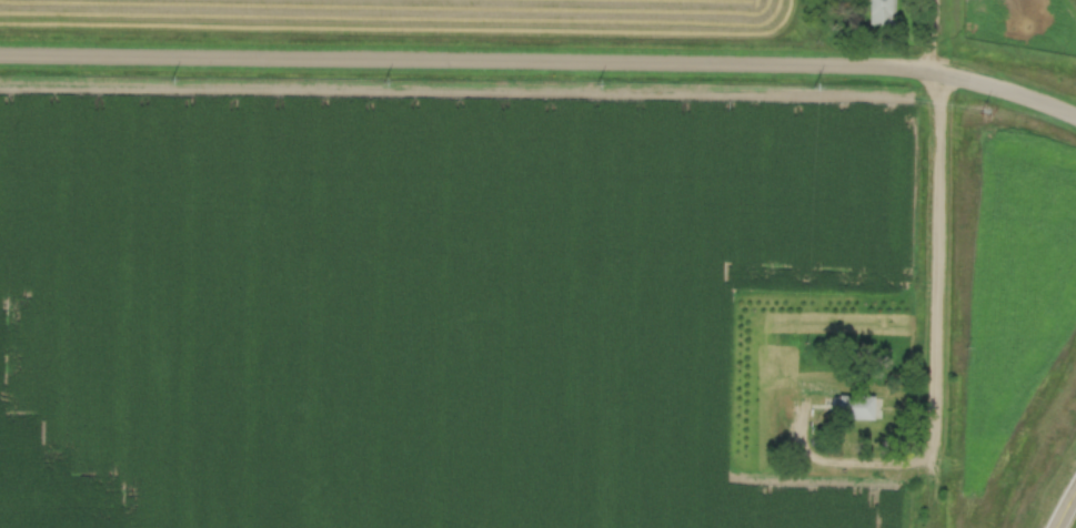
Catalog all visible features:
building: (883, 11)
road: (932, 35)
road: (541, 64)
road: (938, 299)
building: (854, 407)
road: (846, 460)
road: (1065, 509)

